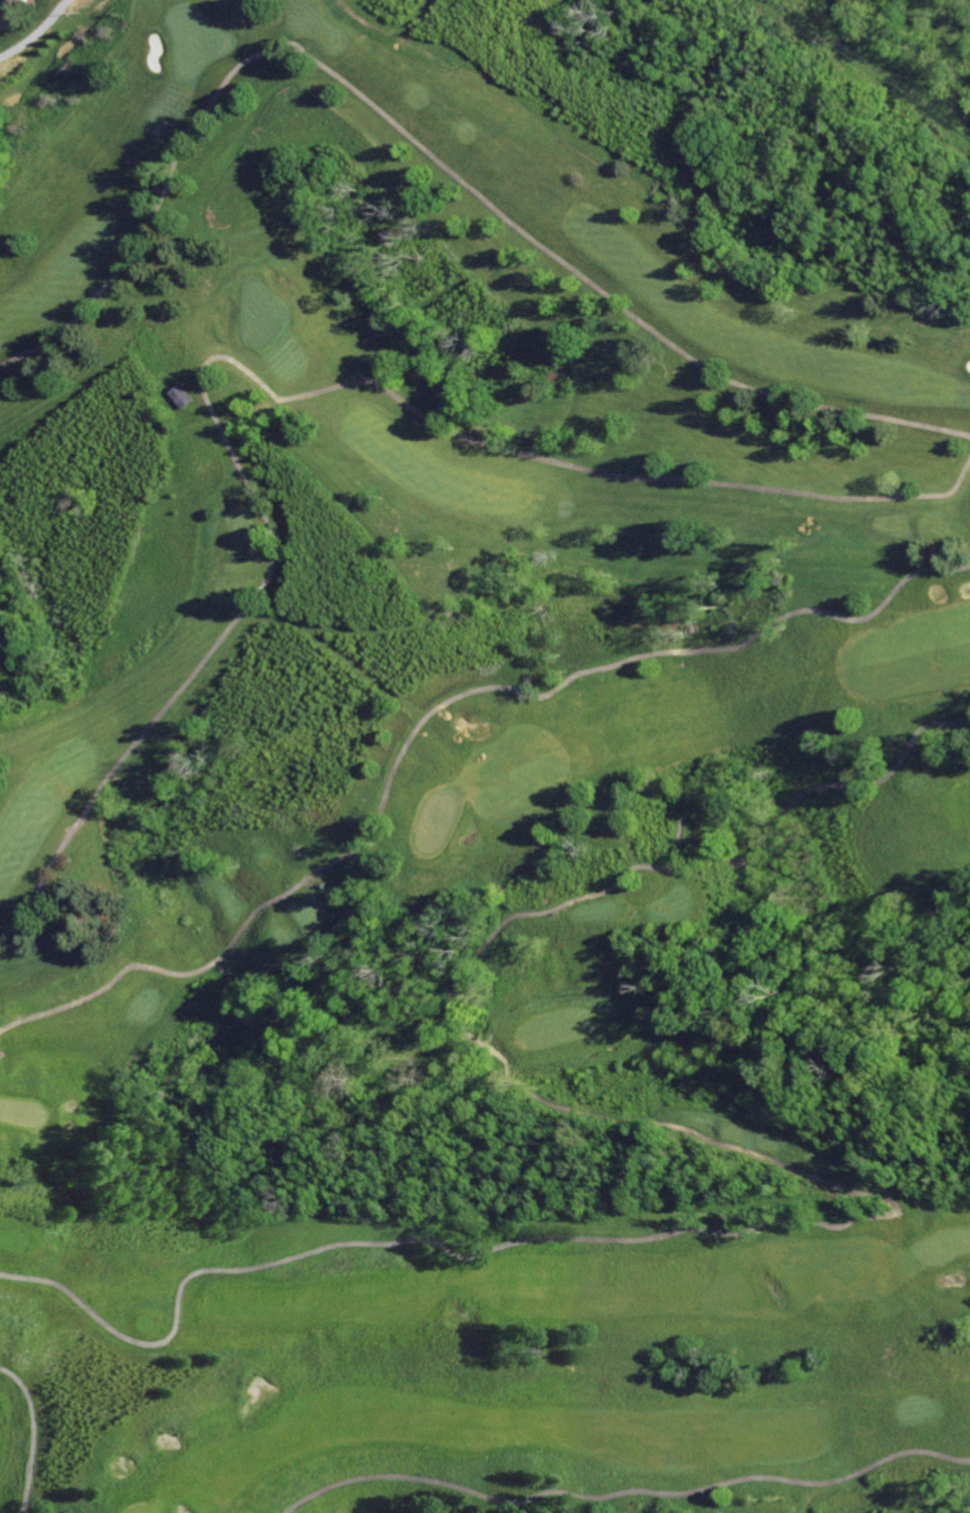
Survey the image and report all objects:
building: (15, 1)
crop: (936, 16)
park: (197, 41)
road: (430, 152)
park: (260, 314)
road: (264, 389)
building: (183, 398)
road: (436, 711)
park: (472, 758)
road: (316, 1058)
road: (790, 1170)
road: (38, 1432)
road: (624, 1492)
road: (28, 1508)

